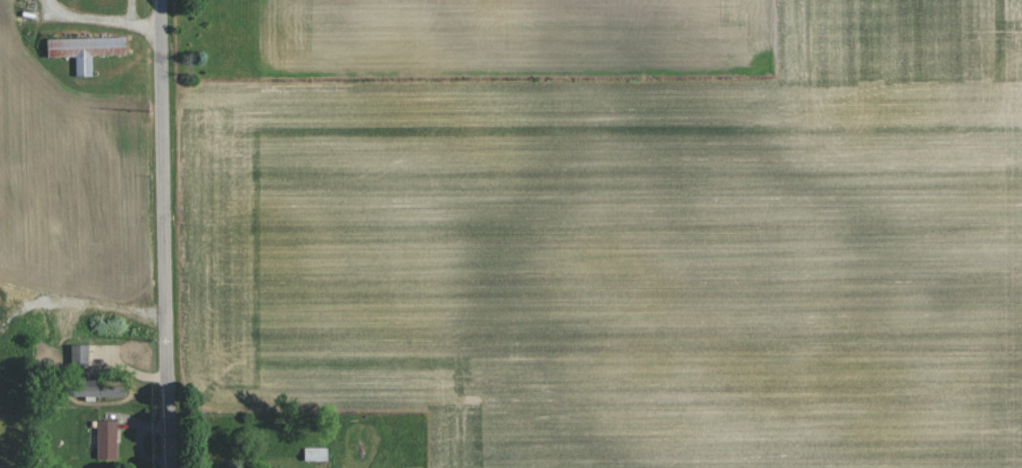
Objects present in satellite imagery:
building: (87, 50)
power tower: (148, 110)
road: (160, 234)
power tower: (155, 341)
building: (80, 354)
building: (107, 439)
building: (317, 453)

